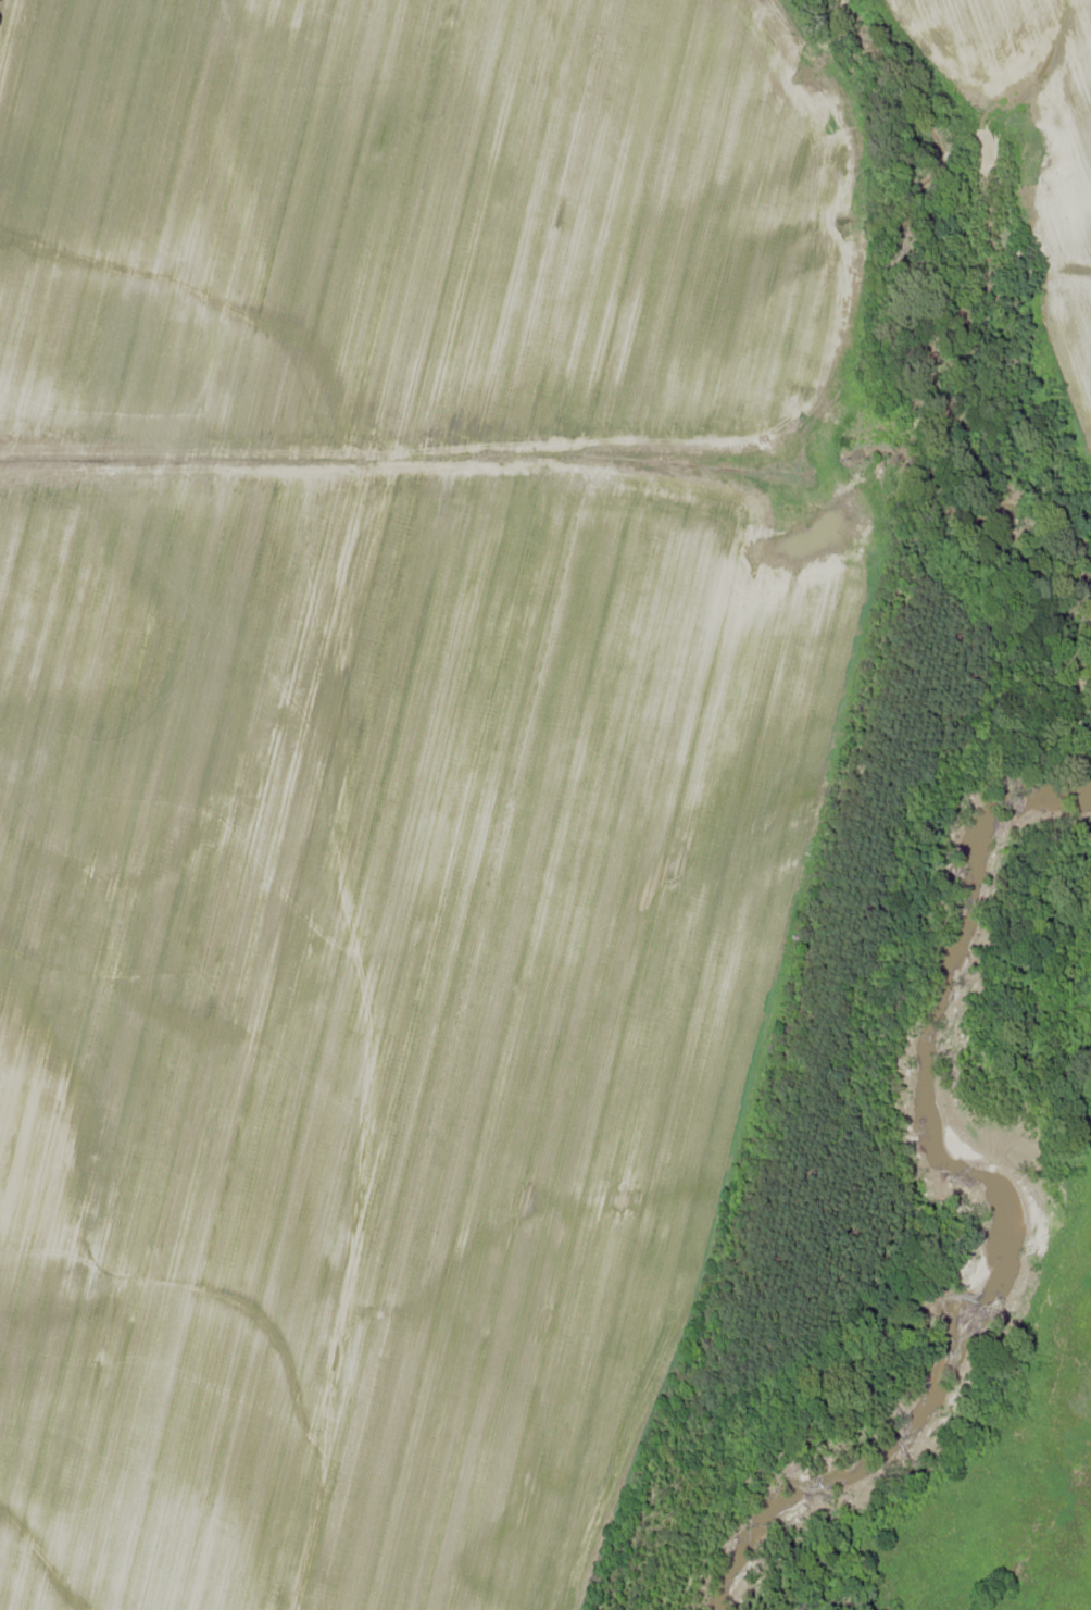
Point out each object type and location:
river: (992, 1189)

